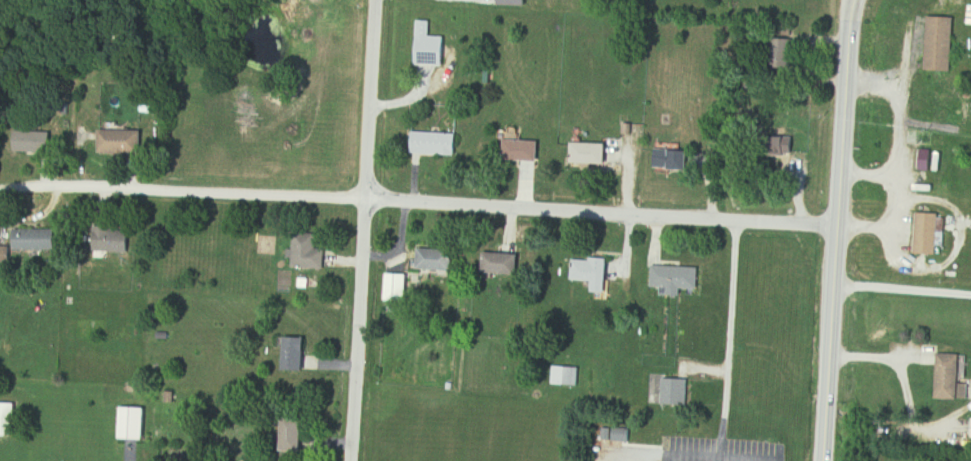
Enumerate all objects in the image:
building: (937, 41)
building: (430, 46)
building: (784, 54)
building: (33, 142)
building: (121, 142)
building: (437, 144)
building: (525, 151)
building: (592, 154)
road: (894, 156)
building: (673, 158)
road: (865, 177)
road: (0, 192)
road: (417, 203)
road: (833, 229)
road: (363, 230)
building: (928, 234)
building: (36, 240)
building: (113, 240)
building: (309, 253)
building: (5, 255)
building: (438, 261)
building: (502, 264)
building: (593, 273)
building: (677, 279)
building: (397, 288)
road: (901, 290)
road: (726, 343)
building: (296, 355)
building: (567, 377)
building: (954, 379)
building: (674, 393)
building: (8, 420)
building: (132, 424)
building: (297, 435)
building: (620, 435)

